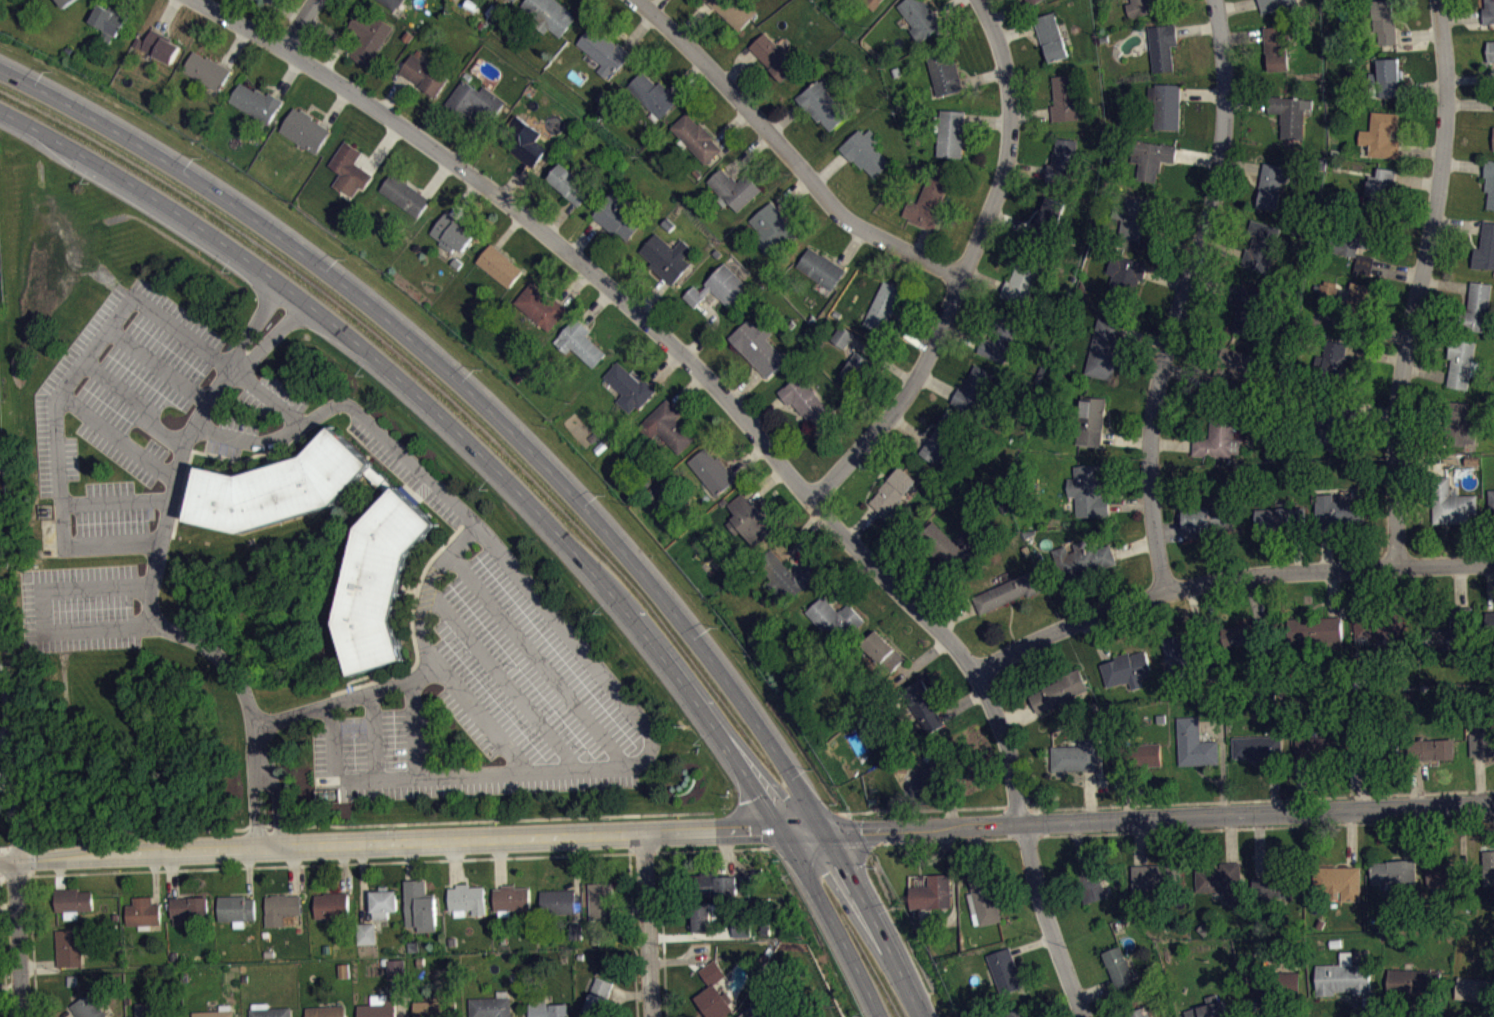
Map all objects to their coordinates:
building: (513, 0)
building: (258, 1)
building: (65, 2)
building: (1032, 2)
building: (392, 3)
building: (873, 3)
building: (1277, 4)
road: (947, 7)
building: (1140, 7)
road: (287, 9)
building: (734, 10)
building: (1488, 12)
road: (167, 15)
building: (550, 15)
building: (920, 17)
building: (109, 18)
road: (693, 19)
building: (1385, 20)
road: (297, 23)
road: (329, 29)
road: (638, 30)
building: (368, 36)
building: (1052, 36)
building: (160, 45)
building: (1163, 45)
road: (235, 46)
building: (1276, 47)
building: (1491, 50)
building: (604, 51)
road: (332, 56)
building: (772, 56)
road: (738, 67)
building: (207, 70)
building: (943, 72)
building: (424, 74)
road: (983, 76)
building: (1388, 76)
road: (288, 77)
road: (688, 77)
road: (393, 94)
building: (653, 94)
building: (1065, 98)
building: (474, 100)
building: (256, 102)
building: (821, 103)
building: (1165, 105)
road: (335, 107)
building: (1290, 113)
road: (784, 119)
road: (987, 122)
road: (733, 127)
building: (305, 129)
building: (949, 132)
building: (1382, 134)
building: (696, 137)
road: (469, 138)
building: (522, 140)
road: (382, 147)
building: (865, 151)
road: (748, 153)
road: (787, 154)
building: (1151, 157)
building: (1063, 162)
road: (829, 168)
building: (350, 169)
road: (436, 177)
road: (513, 179)
building: (1490, 181)
building: (569, 183)
building: (1271, 185)
building: (733, 188)
building: (1381, 189)
building: (404, 193)
road: (793, 193)
road: (464, 197)
building: (927, 203)
building: (617, 215)
building: (1133, 215)
road: (558, 217)
building: (1046, 220)
building: (771, 228)
road: (507, 229)
building: (451, 233)
road: (583, 236)
road: (920, 240)
building: (1261, 245)
road: (851, 247)
building: (1485, 248)
building: (1348, 250)
building: (667, 256)
building: (499, 264)
building: (820, 267)
road: (963, 268)
building: (1366, 271)
building: (1022, 280)
building: (1124, 280)
road: (1418, 281)
road: (574, 285)
building: (720, 287)
building: (1329, 292)
road: (1181, 294)
road: (651, 295)
building: (540, 305)
road: (596, 305)
building: (1360, 305)
building: (883, 307)
building: (1476, 308)
building: (1250, 310)
road: (708, 329)
road: (961, 335)
building: (841, 336)
building: (1000, 336)
road: (911, 337)
building: (580, 342)
building: (844, 343)
building: (758, 346)
building: (1105, 348)
building: (1336, 357)
road: (882, 360)
road: (84, 362)
building: (1237, 362)
building: (1462, 363)
road: (158, 364)
road: (664, 367)
building: (856, 368)
road: (936, 383)
road: (744, 386)
building: (629, 387)
building: (973, 388)
road: (468, 389)
road: (687, 389)
parking lot: (272, 397)
building: (805, 399)
road: (137, 401)
road: (351, 407)
parking lot: (117, 412)
road: (766, 412)
road: (441, 416)
building: (1092, 420)
building: (1338, 424)
building: (1458, 424)
road: (749, 425)
building: (667, 426)
road: (909, 427)
parking lot: (232, 435)
road: (119, 436)
building: (942, 436)
building: (1217, 443)
road: (748, 459)
building: (712, 471)
road: (765, 483)
building: (892, 490)
building: (1089, 491)
building: (1491, 498)
road: (116, 500)
building: (1452, 503)
building: (1339, 512)
building: (1207, 518)
building: (1280, 518)
building: (749, 520)
road: (861, 523)
road: (799, 536)
building: (386, 545)
building: (947, 550)
building: (1084, 557)
building: (785, 575)
road: (152, 576)
road: (1225, 578)
road: (848, 580)
road: (930, 591)
building: (1007, 591)
parking lot: (79, 607)
road: (42, 610)
building: (1491, 617)
building: (835, 618)
building: (1379, 623)
building: (1458, 628)
building: (1314, 630)
building: (1245, 631)
building: (883, 651)
road: (922, 657)
building: (1181, 658)
road: (538, 659)
building: (1127, 668)
road: (422, 673)
road: (502, 677)
parking lot: (491, 682)
building: (1058, 690)
road: (962, 703)
building: (924, 705)
road: (480, 715)
road: (412, 727)
road: (373, 735)
building: (1481, 741)
building: (1195, 743)
building: (1375, 743)
building: (1321, 746)
building: (1258, 747)
building: (1430, 749)
building: (1076, 754)
building: (1139, 754)
building: (940, 765)
road: (604, 767)
road: (6, 783)
road: (949, 799)
road: (1261, 799)
road: (911, 809)
road: (1160, 816)
road: (367, 824)
road: (1267, 826)
traffic signals: (782, 830)
road: (804, 830)
traffic signals: (827, 830)
road: (1012, 835)
road: (947, 839)
road: (390, 841)
road: (16, 843)
road: (825, 844)
road: (17, 845)
road: (5, 846)
road: (713, 848)
road: (1, 849)
road: (643, 851)
road: (725, 853)
road: (33, 858)
road: (411, 860)
road: (924, 860)
road: (1, 862)
road: (499, 862)
road: (329, 863)
road: (452, 863)
road: (342, 868)
building: (1489, 869)
road: (293, 870)
building: (1393, 871)
road: (248, 872)
road: (59, 873)
road: (172, 873)
building: (1444, 873)
road: (154, 876)
road: (14, 878)
road: (575, 878)
building: (1155, 878)
building: (1222, 880)
building: (1275, 880)
building: (1342, 881)
road: (362, 883)
building: (1090, 883)
building: (711, 884)
road: (954, 890)
building: (932, 892)
building: (467, 898)
building: (511, 898)
building: (983, 898)
building: (73, 899)
building: (601, 900)
building: (558, 901)
building: (383, 902)
building: (331, 905)
building: (419, 906)
road: (7, 907)
building: (187, 908)
building: (235, 908)
building: (280, 908)
road: (629, 908)
building: (143, 911)
building: (700, 917)
road: (879, 921)
road: (834, 922)
road: (646, 925)
building: (741, 927)
building: (575, 930)
building: (366, 932)
road: (632, 934)
road: (661, 934)
road: (689, 934)
building: (742, 935)
building: (577, 937)
road: (3, 944)
road: (33, 946)
building: (414, 946)
building: (70, 947)
road: (678, 959)
road: (38, 966)
building: (1119, 966)
building: (396, 968)
building: (344, 969)
building: (1005, 969)
building: (345, 977)
building: (1343, 978)
building: (1407, 981)
road: (9, 987)
building: (1258, 987)
building: (1293, 988)
building: (1475, 990)
building: (713, 992)
road: (629, 994)
building: (598, 998)
road: (615, 1002)
building: (93, 1006)
building: (490, 1006)
building: (546, 1008)
building: (1210, 1008)
building: (158, 1009)
building: (379, 1009)
building: (435, 1009)
building: (325, 1011)
building: (1022, 1011)
building: (270, 1012)
building: (1138, 1012)
building: (214, 1013)
building: (748, 1013)

